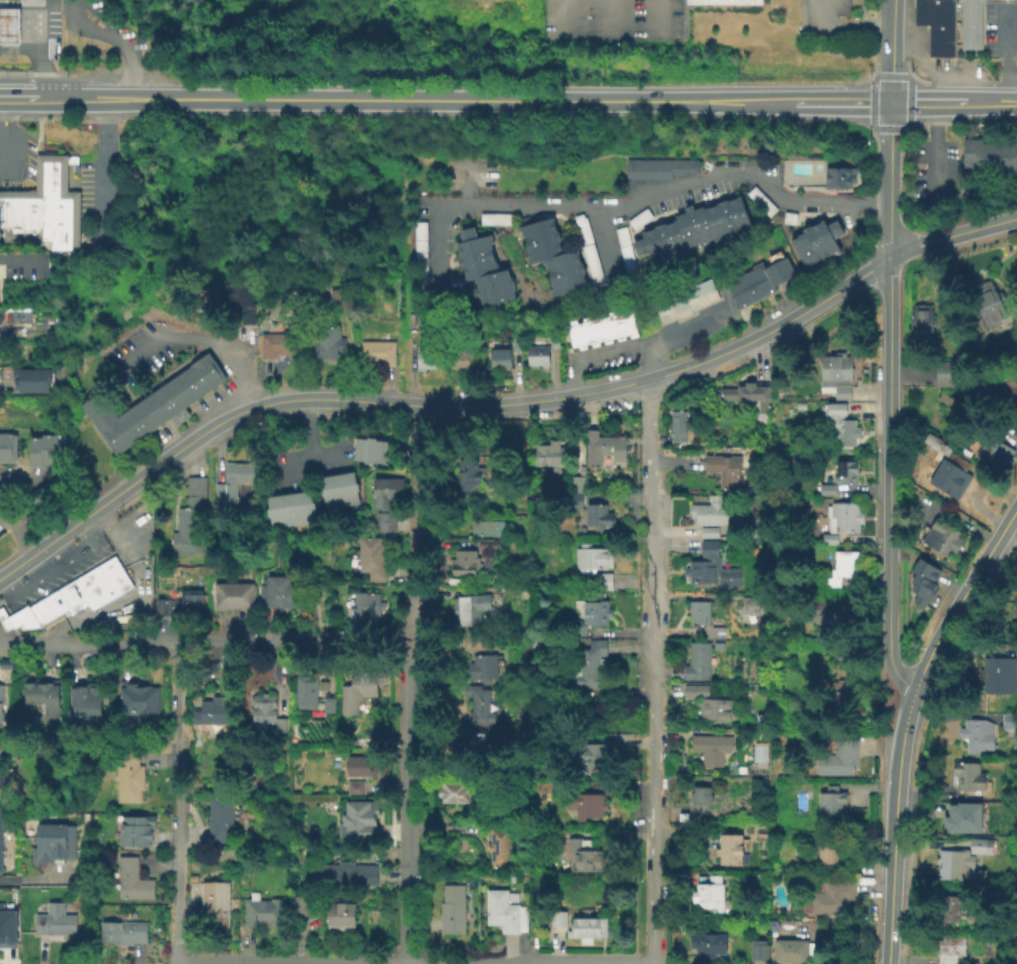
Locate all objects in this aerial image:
building: (15, 0)
road: (49, 3)
building: (722, 3)
road: (30, 9)
road: (861, 13)
road: (559, 19)
road: (611, 19)
road: (657, 20)
building: (973, 22)
road: (15, 24)
building: (8, 25)
gas station: (8, 25)
building: (935, 25)
road: (847, 27)
road: (31, 30)
road: (119, 31)
road: (88, 36)
road: (15, 38)
road: (891, 50)
road: (1003, 57)
road: (37, 59)
road: (929, 68)
road: (17, 97)
road: (413, 99)
road: (841, 101)
traffic signals: (891, 102)
road: (928, 102)
road: (990, 102)
road: (932, 153)
building: (989, 155)
building: (657, 167)
road: (104, 172)
building: (48, 174)
building: (838, 176)
road: (891, 181)
road: (637, 199)
building: (8, 211)
building: (28, 213)
building: (59, 221)
building: (691, 229)
road: (952, 236)
building: (815, 240)
building: (551, 254)
road: (21, 259)
building: (481, 266)
building: (358, 278)
building: (759, 283)
building: (337, 298)
building: (232, 300)
building: (243, 300)
building: (987, 302)
building: (686, 303)
building: (922, 321)
building: (411, 325)
building: (600, 331)
road: (200, 342)
building: (554, 343)
building: (276, 346)
building: (326, 346)
road: (633, 351)
building: (463, 354)
building: (377, 355)
building: (504, 356)
building: (537, 356)
building: (427, 360)
road: (649, 364)
building: (945, 372)
building: (834, 373)
building: (29, 376)
road: (662, 376)
building: (30, 388)
building: (1012, 396)
building: (748, 397)
building: (675, 404)
building: (799, 404)
building: (150, 407)
building: (841, 424)
building: (678, 427)
road: (306, 430)
building: (931, 440)
building: (371, 443)
road: (188, 445)
building: (607, 445)
building: (7, 450)
building: (44, 451)
building: (993, 451)
building: (369, 455)
building: (552, 455)
road: (305, 462)
building: (845, 470)
building: (726, 471)
building: (469, 475)
building: (946, 476)
building: (231, 482)
building: (350, 487)
building: (339, 488)
building: (825, 488)
building: (328, 490)
building: (387, 492)
building: (577, 492)
road: (889, 492)
building: (49, 497)
road: (21, 498)
building: (192, 503)
building: (307, 506)
building: (296, 508)
building: (285, 509)
building: (273, 511)
building: (711, 511)
building: (600, 515)
building: (840, 519)
road: (6, 521)
building: (386, 521)
building: (711, 531)
building: (755, 532)
building: (489, 534)
building: (941, 536)
road: (22, 541)
building: (186, 541)
building: (594, 556)
road: (413, 557)
building: (371, 559)
building: (470, 564)
building: (710, 566)
building: (843, 566)
road: (51, 568)
building: (113, 578)
building: (921, 579)
building: (605, 581)
building: (92, 590)
building: (277, 595)
road: (134, 597)
building: (235, 597)
building: (64, 599)
building: (1014, 599)
building: (749, 604)
building: (195, 605)
building: (363, 607)
building: (168, 608)
building: (47, 609)
building: (823, 609)
building: (474, 610)
building: (598, 614)
building: (705, 618)
building: (24, 619)
building: (578, 629)
building: (821, 631)
road: (203, 643)
building: (478, 644)
building: (537, 644)
building: (699, 662)
building: (592, 666)
building: (484, 669)
road: (650, 672)
building: (998, 673)
building: (358, 690)
building: (694, 690)
building: (44, 694)
building: (1, 696)
building: (307, 696)
building: (843, 697)
building: (85, 699)
building: (138, 699)
building: (480, 706)
building: (718, 710)
building: (217, 713)
building: (267, 713)
road: (903, 718)
building: (1009, 720)
building: (977, 734)
building: (477, 741)
building: (710, 749)
building: (3, 753)
building: (761, 754)
building: (839, 755)
building: (597, 758)
building: (361, 768)
building: (967, 774)
building: (132, 779)
building: (3, 785)
building: (356, 788)
building: (454, 795)
building: (700, 802)
building: (830, 802)
road: (408, 803)
road: (178, 804)
building: (590, 804)
building: (962, 817)
building: (764, 819)
building: (225, 820)
building: (361, 824)
building: (138, 830)
building: (1, 844)
building: (980, 845)
building: (55, 847)
building: (500, 848)
building: (734, 851)
building: (825, 853)
building: (581, 856)
building: (957, 865)
building: (344, 874)
road: (28, 879)
building: (134, 879)
building: (711, 896)
building: (831, 896)
building: (216, 905)
building: (305, 907)
building: (949, 907)
building: (263, 911)
building: (454, 912)
building: (507, 913)
building: (342, 915)
building: (55, 919)
building: (558, 920)
building: (7, 927)
building: (124, 931)
building: (588, 931)
building: (711, 946)
building: (950, 948)
building: (760, 952)
building: (792, 952)

